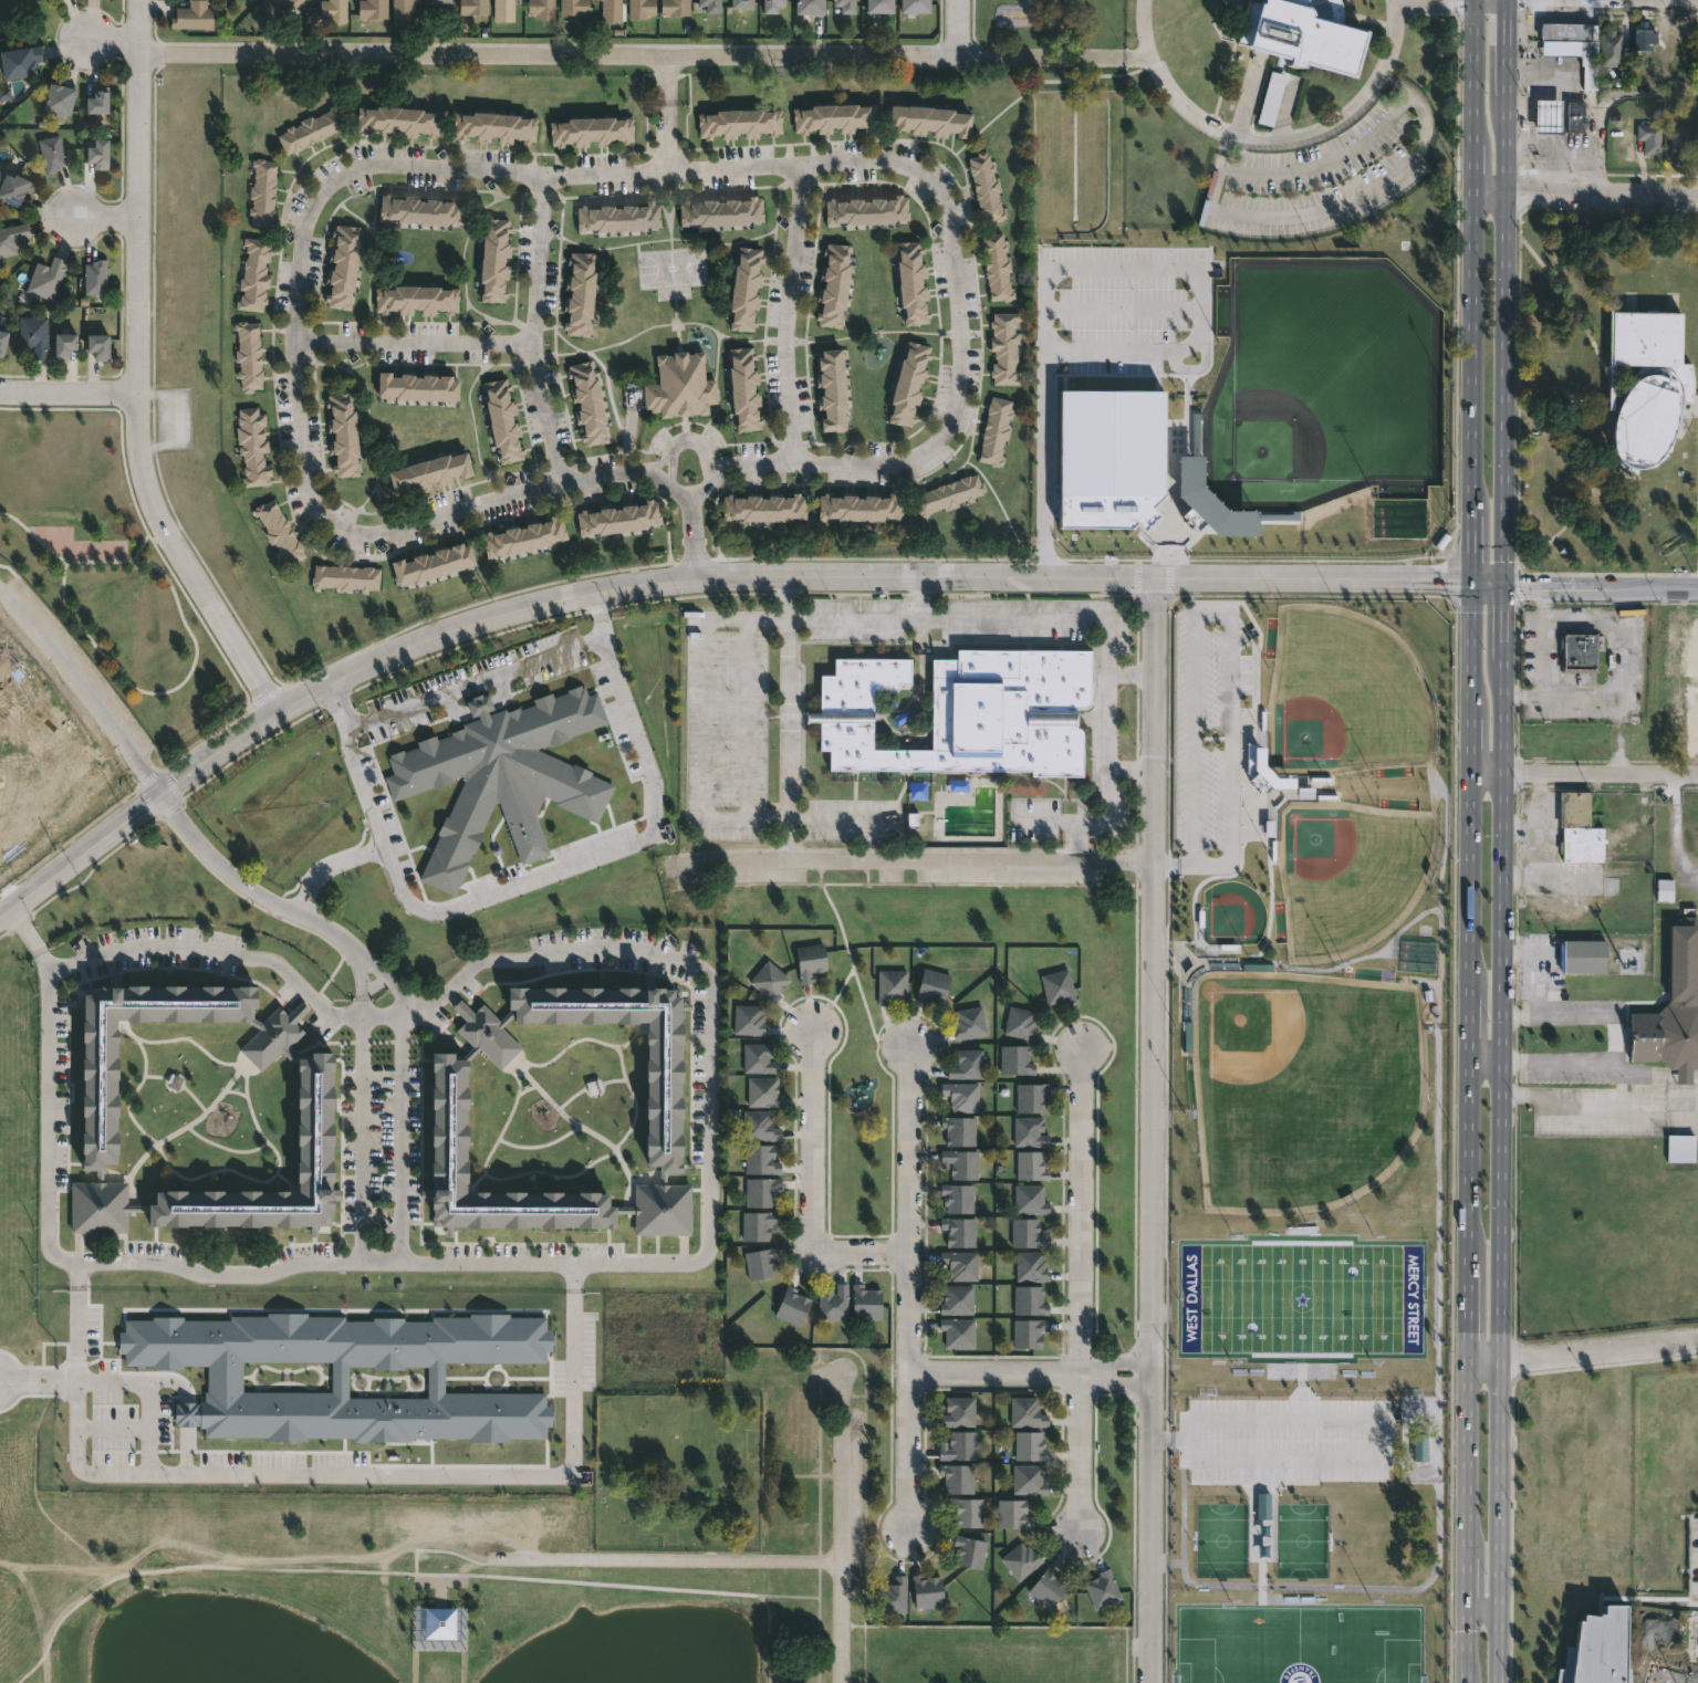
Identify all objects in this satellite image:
building: (62, 0)
building: (254, 0)
building: (441, 2)
building: (743, 4)
building: (277, 6)
building: (711, 6)
building: (774, 6)
building: (845, 6)
building: (882, 7)
building: (917, 7)
building: (473, 8)
building: (575, 8)
building: (676, 8)
building: (811, 8)
building: (373, 9)
building: (542, 9)
building: (643, 9)
building: (333, 10)
building: (612, 10)
building: (503, 11)
building: (403, 12)
building: (194, 17)
road: (958, 27)
building: (1565, 29)
building: (1303, 33)
building: (1645, 36)
road: (114, 42)
building: (1613, 48)
road: (623, 56)
road: (1114, 58)
road: (1131, 59)
road: (1145, 59)
building: (20, 63)
road: (667, 79)
road: (1593, 96)
building: (59, 98)
building: (98, 100)
building: (1274, 100)
building: (1545, 114)
gas station: (1545, 114)
building: (1574, 114)
building: (834, 115)
building: (397, 118)
building: (929, 118)
building: (739, 121)
building: (493, 124)
building: (591, 127)
building: (311, 129)
road: (669, 135)
building: (1653, 137)
building: (1685, 140)
road: (1272, 144)
building: (52, 153)
building: (98, 153)
road: (1326, 160)
parking lot: (1323, 173)
road: (541, 174)
building: (986, 186)
building: (13, 187)
road: (1585, 190)
building: (262, 191)
road: (1336, 206)
building: (420, 208)
building: (866, 209)
building: (720, 210)
road: (106, 216)
building: (618, 216)
building: (11, 237)
building: (494, 259)
building: (343, 264)
building: (997, 266)
road: (1082, 268)
building: (253, 273)
building: (46, 276)
building: (95, 276)
building: (913, 281)
building: (833, 283)
building: (746, 286)
building: (579, 292)
road: (1566, 293)
building: (416, 297)
parking lot: (1126, 309)
road: (787, 314)
road: (534, 330)
building: (33, 335)
building: (1648, 339)
building: (2, 341)
building: (65, 344)
road: (414, 344)
building: (98, 345)
building: (1004, 347)
building: (248, 355)
road: (138, 372)
building: (909, 381)
building: (680, 385)
building: (417, 386)
building: (744, 386)
building: (831, 388)
park: (1326, 388)
park: (1608, 394)
road: (69, 396)
building: (587, 400)
building: (1646, 414)
building: (502, 419)
building: (996, 429)
building: (343, 435)
building: (252, 446)
building: (1112, 454)
road: (671, 457)
road: (715, 457)
road: (659, 462)
road: (731, 463)
building: (430, 470)
road: (717, 470)
road: (645, 472)
road: (660, 477)
building: (949, 494)
building: (764, 506)
building: (861, 506)
building: (618, 518)
road: (1565, 525)
building: (279, 531)
road: (694, 533)
building: (523, 536)
road: (855, 556)
building: (434, 563)
park: (107, 569)
building: (345, 576)
road: (707, 576)
traffic signals: (1472, 579)
traffic signals: (1506, 586)
road: (1602, 586)
road: (598, 602)
road: (1230, 610)
road: (1621, 620)
road: (602, 627)
road: (1545, 640)
road: (1108, 645)
building: (1582, 650)
parking lot: (1582, 661)
road: (788, 670)
road: (1132, 673)
road: (82, 688)
road: (502, 690)
road: (452, 691)
park: (1345, 693)
road: (1602, 694)
road: (480, 705)
road: (452, 709)
building: (966, 713)
road: (708, 718)
road: (748, 720)
parking lot: (727, 724)
building: (10, 764)
road: (1132, 765)
road: (1584, 772)
building: (502, 776)
road: (841, 819)
parking lot: (850, 819)
parking lot: (1035, 822)
building: (1581, 828)
road: (1677, 828)
road: (1471, 840)
road: (1502, 840)
road: (911, 859)
road: (1175, 861)
road: (327, 867)
park: (1347, 869)
park: (1285, 870)
road: (537, 877)
road: (250, 888)
park: (1233, 913)
road: (22, 928)
road: (235, 957)
building: (1584, 957)
road: (42, 960)
building: (809, 961)
road: (854, 968)
building: (768, 980)
building: (890, 985)
building: (933, 985)
building: (1058, 986)
road: (835, 999)
building: (1674, 1007)
parking lot: (1570, 1010)
road: (711, 1016)
road: (1559, 1017)
building: (748, 1020)
building: (968, 1022)
building: (1020, 1023)
road: (1615, 1039)
building: (758, 1058)
road: (1486, 1058)
road: (1559, 1058)
building: (1015, 1059)
building: (966, 1064)
parking lot: (1577, 1068)
park: (1304, 1083)
building: (762, 1091)
building: (960, 1096)
building: (1031, 1097)
road: (403, 1102)
building: (1574, 1105)
road: (1679, 1107)
road: (1639, 1108)
parking lot: (1601, 1109)
road: (1583, 1110)
road: (361, 1111)
building: (663, 1118)
building: (101, 1119)
building: (451, 1122)
building: (317, 1123)
road: (48, 1125)
building: (759, 1126)
building: (958, 1129)
road: (1154, 1130)
building: (1029, 1131)
building: (760, 1159)
building: (959, 1163)
building: (1031, 1164)
road: (813, 1190)
building: (760, 1191)
building: (957, 1196)
building: (1029, 1199)
building: (101, 1209)
building: (757, 1224)
building: (958, 1231)
building: (1025, 1233)
building: (759, 1263)
building: (960, 1264)
building: (1030, 1266)
road: (76, 1275)
road: (1081, 1288)
road: (911, 1290)
park: (1302, 1296)
building: (956, 1299)
building: (832, 1300)
building: (863, 1300)
building: (1029, 1300)
building: (791, 1305)
building: (957, 1332)
building: (1028, 1332)
road: (76, 1335)
road: (1582, 1352)
road: (1115, 1362)
road: (996, 1372)
building: (348, 1374)
road: (1114, 1383)
road: (147, 1395)
building: (957, 1410)
building: (1025, 1411)
road: (1384, 1419)
parking lot: (1290, 1442)
road: (573, 1443)
building: (1029, 1443)
building: (959, 1444)
building: (956, 1476)
park: (409, 1477)
building: (1028, 1477)
building: (965, 1509)
building: (1012, 1512)
road: (844, 1527)
building: (1694, 1527)
park: (1302, 1537)
park: (1222, 1538)
building: (969, 1549)
road: (668, 1557)
building: (1020, 1559)
road: (394, 1571)
road: (820, 1578)
building: (1046, 1586)
building: (1102, 1588)
building: (926, 1589)
parking lot: (1697, 1591)
building: (892, 1593)
road: (1483, 1607)
building: (439, 1623)
road: (769, 1637)
road: (820, 1640)
park: (1296, 1644)
building: (1601, 1650)

